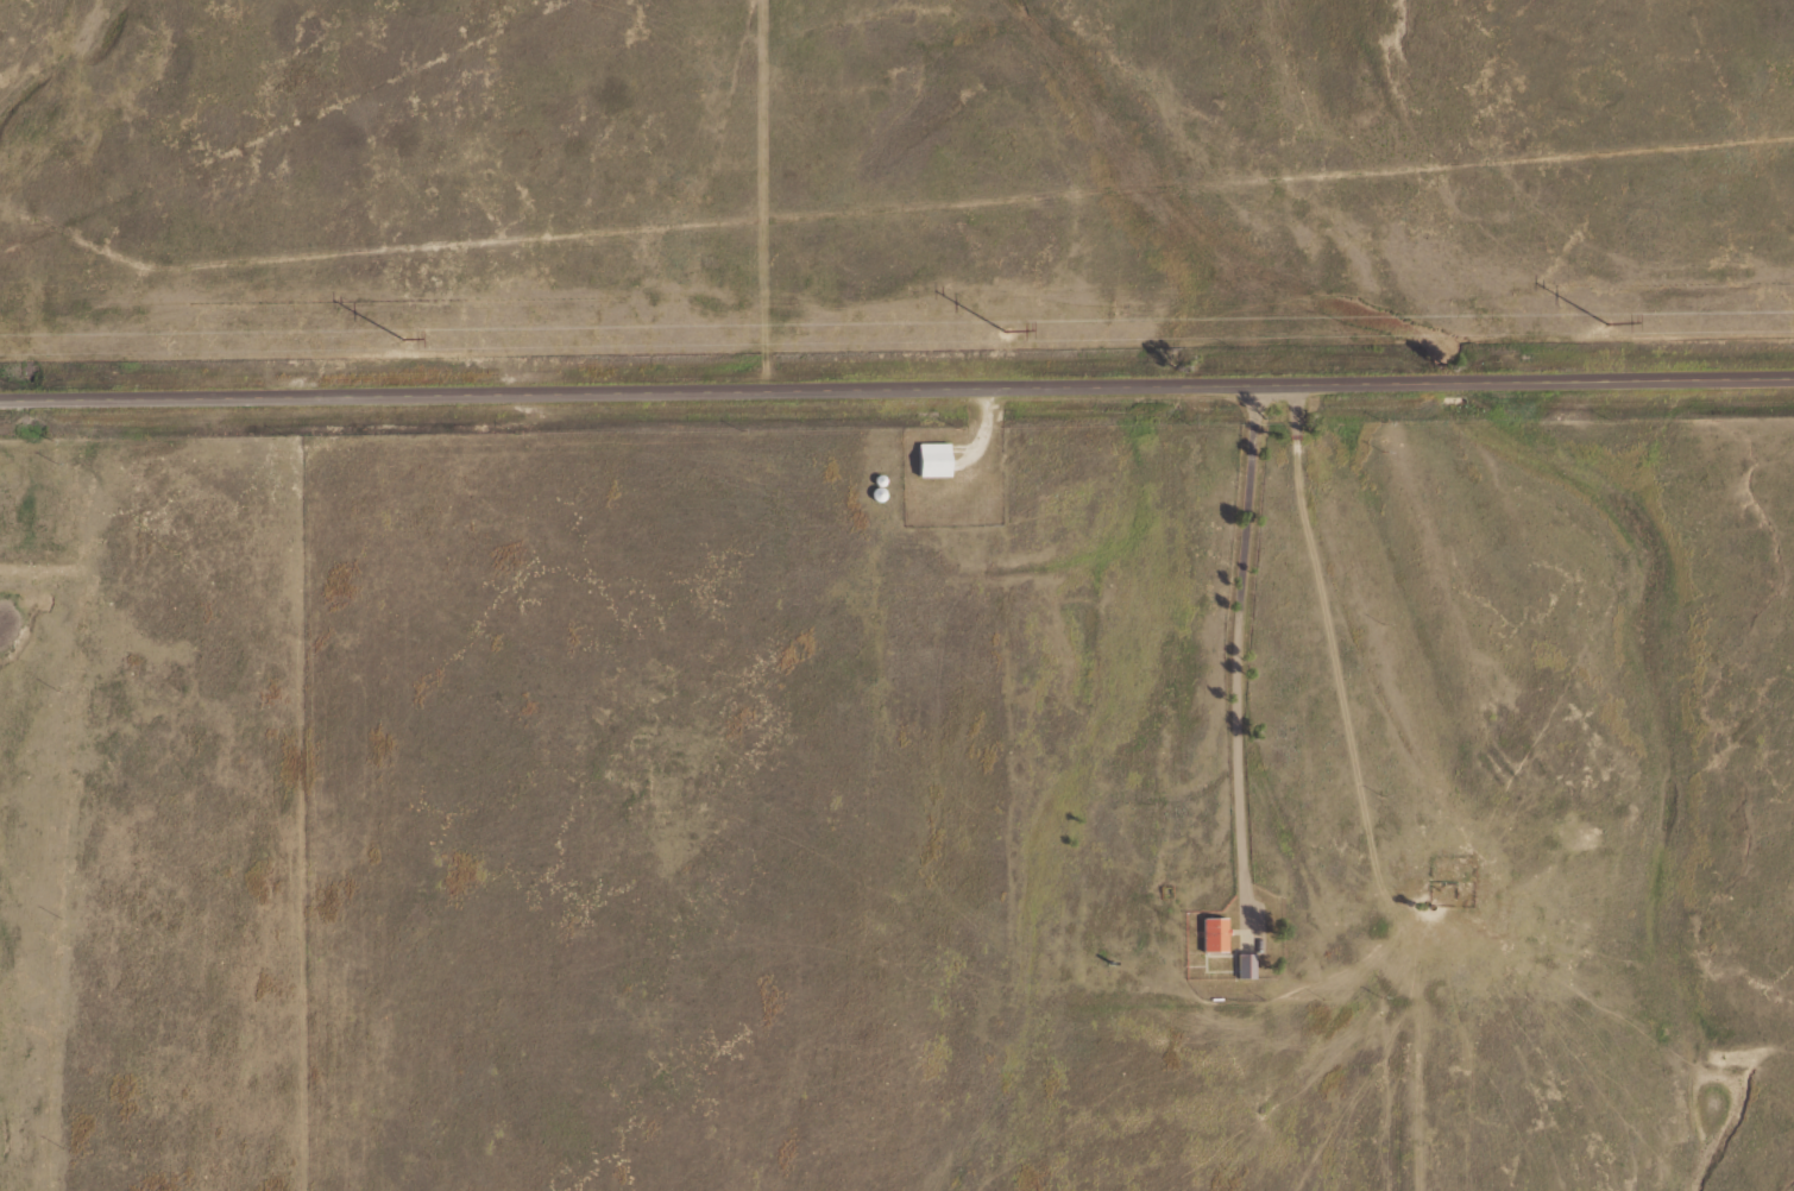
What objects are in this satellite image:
power tower: (1606, 323)
power tower: (1002, 330)
power tower: (399, 340)
road: (896, 386)
building: (938, 458)
road: (1254, 624)
building: (1219, 933)

